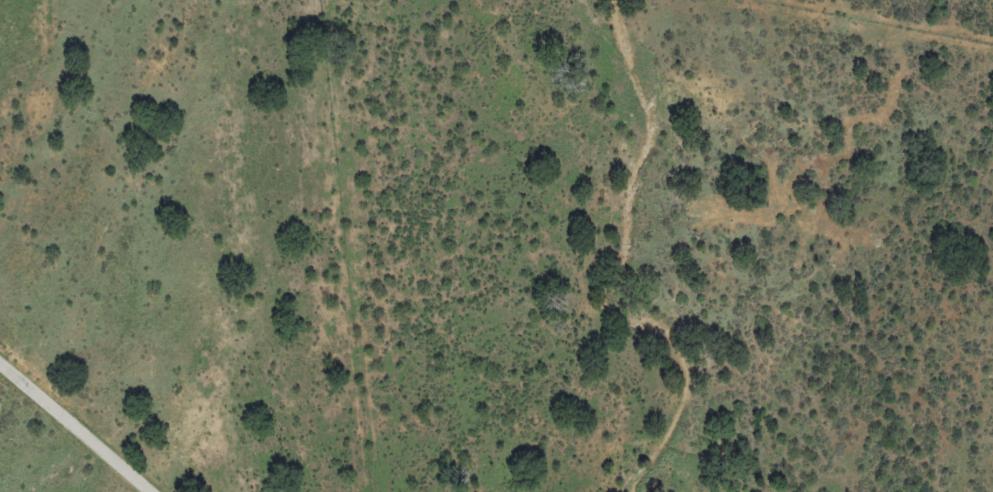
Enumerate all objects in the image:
road: (72, 428)

